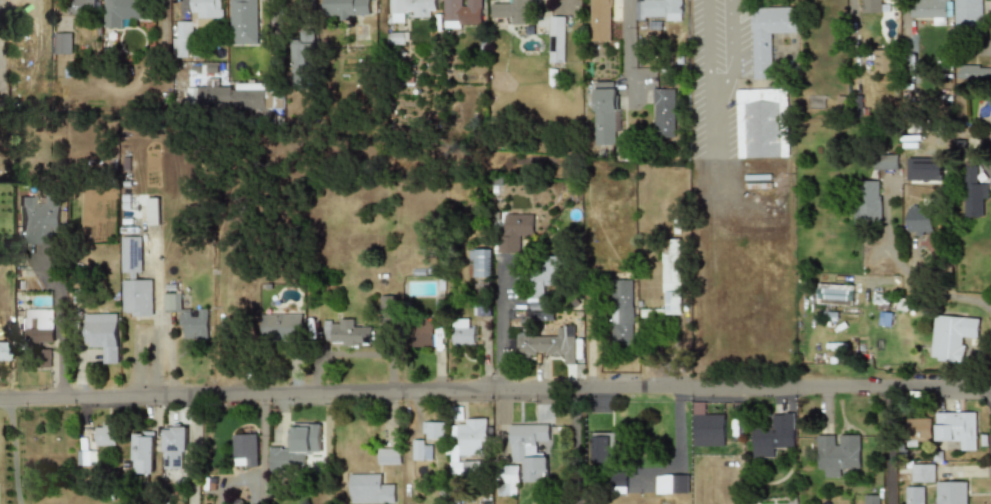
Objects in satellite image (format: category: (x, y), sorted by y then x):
building: (870, 6)
building: (82, 7)
building: (346, 8)
building: (928, 8)
building: (207, 9)
building: (408, 9)
building: (511, 9)
building: (662, 9)
building: (123, 11)
building: (462, 13)
building: (965, 15)
building: (600, 20)
building: (242, 22)
road: (272, 34)
building: (768, 35)
building: (398, 37)
building: (556, 38)
building: (182, 39)
building: (62, 42)
road: (707, 45)
road: (628, 50)
road: (733, 50)
road: (985, 51)
building: (302, 59)
building: (881, 61)
building: (974, 74)
building: (232, 96)
building: (663, 113)
building: (606, 116)
road: (711, 121)
building: (759, 123)
building: (887, 161)
building: (924, 169)
building: (974, 194)
building: (870, 203)
building: (152, 211)
building: (38, 219)
building: (921, 221)
building: (513, 231)
building: (130, 255)
building: (481, 263)
building: (670, 276)
building: (542, 280)
road: (916, 280)
building: (833, 294)
building: (136, 297)
building: (170, 301)
building: (386, 304)
building: (621, 311)
building: (194, 325)
road: (59, 326)
road: (498, 326)
building: (280, 327)
building: (36, 328)
building: (344, 332)
building: (420, 332)
building: (461, 332)
building: (101, 335)
building: (952, 337)
building: (545, 343)
building: (44, 358)
road: (495, 390)
road: (261, 414)
building: (706, 427)
building: (917, 429)
building: (956, 429)
building: (432, 430)
building: (103, 434)
building: (773, 435)
road: (677, 444)
building: (466, 446)
road: (574, 446)
road: (890, 446)
building: (173, 447)
building: (295, 448)
building: (528, 449)
building: (601, 449)
road: (14, 450)
road: (193, 450)
building: (244, 450)
building: (420, 451)
road: (260, 452)
building: (836, 452)
building: (141, 453)
building: (388, 456)
building: (923, 474)
building: (508, 475)
road: (233, 481)
building: (618, 481)
building: (671, 484)
road: (260, 487)
building: (369, 490)
building: (951, 493)
building: (914, 495)

